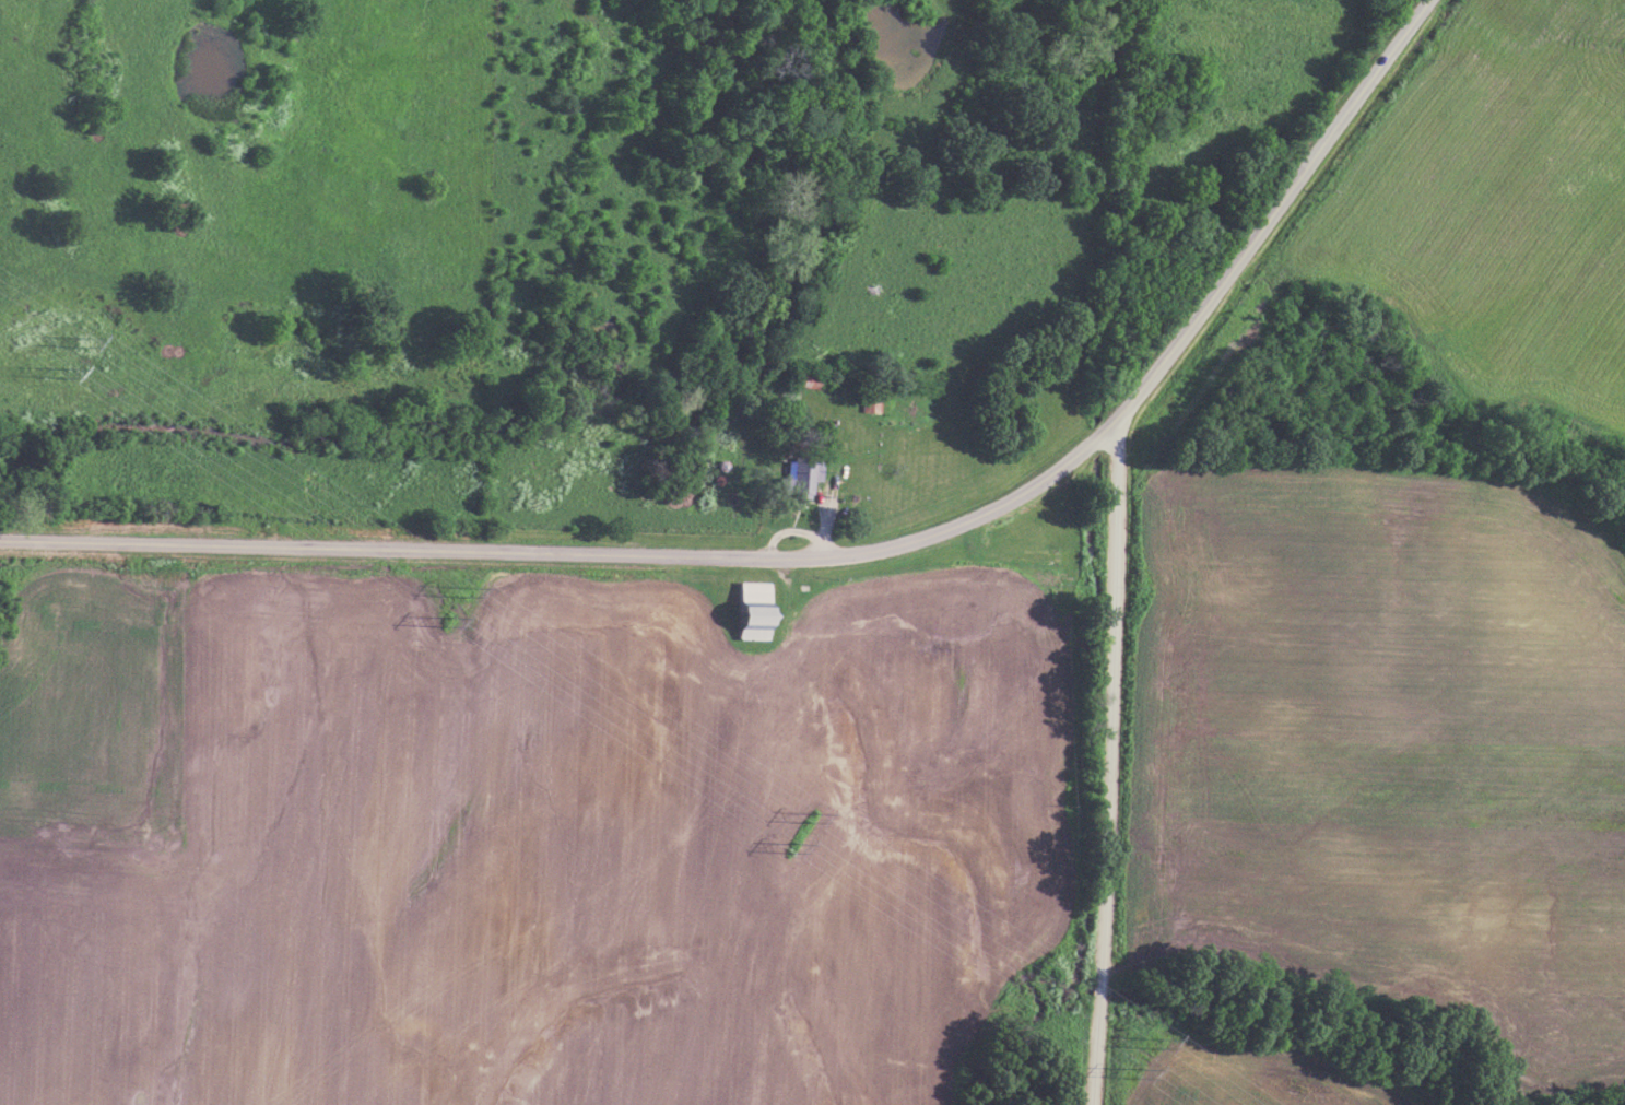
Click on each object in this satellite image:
power tower: (63, 339)
power tower: (49, 373)
building: (804, 376)
building: (868, 399)
building: (794, 477)
road: (838, 559)
power tower: (450, 593)
building: (745, 609)
power tower: (431, 623)
road: (1110, 763)
power tower: (805, 822)
power tower: (786, 851)
power tower: (1147, 1046)
power tower: (1129, 1074)

